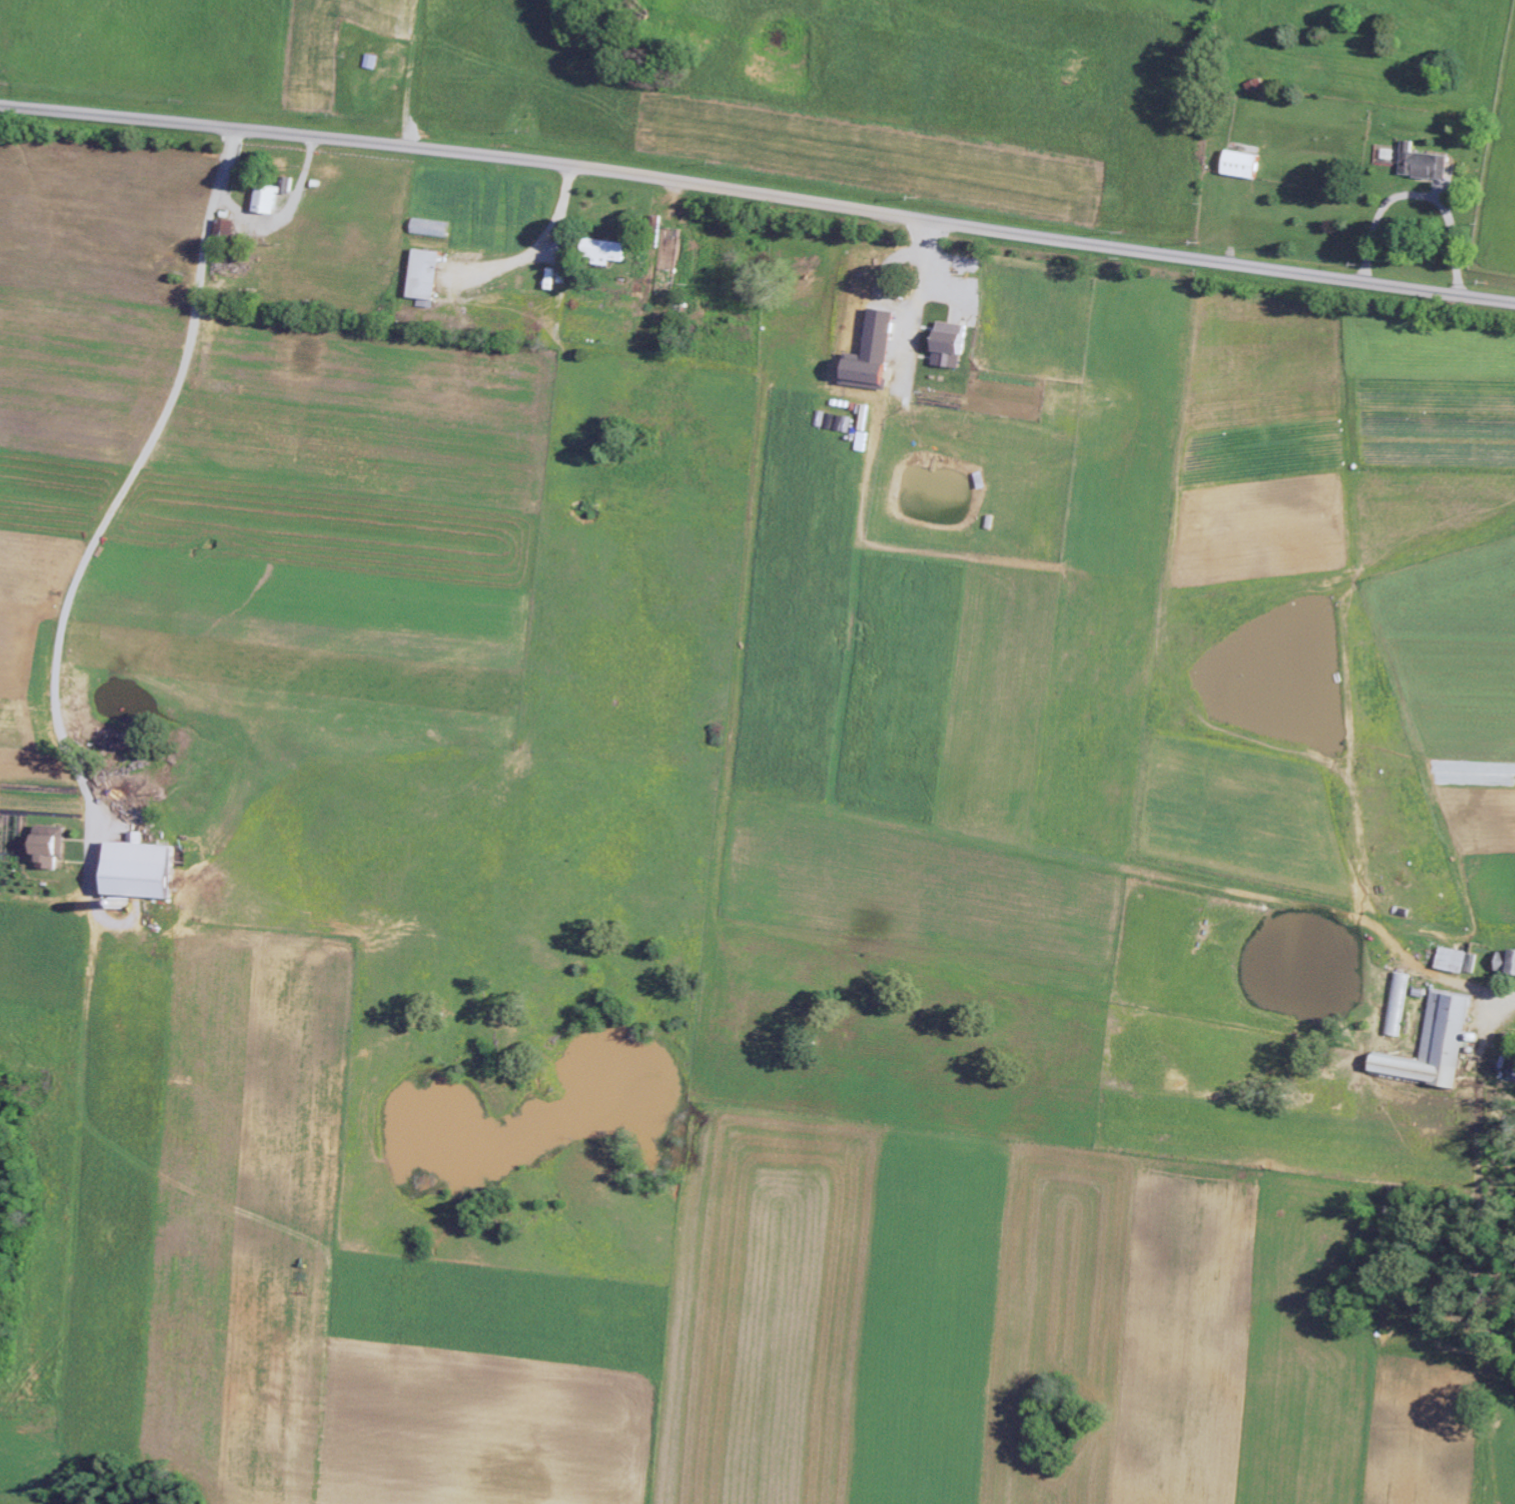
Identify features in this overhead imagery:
building: (1423, 165)
building: (1240, 166)
road: (758, 194)
building: (272, 198)
building: (430, 230)
building: (226, 231)
building: (604, 253)
building: (425, 280)
building: (947, 347)
building: (872, 356)
building: (47, 847)
building: (136, 869)
building: (1457, 962)
building: (1506, 963)
building: (1397, 1005)
building: (1433, 1046)
building: (1511, 1072)

